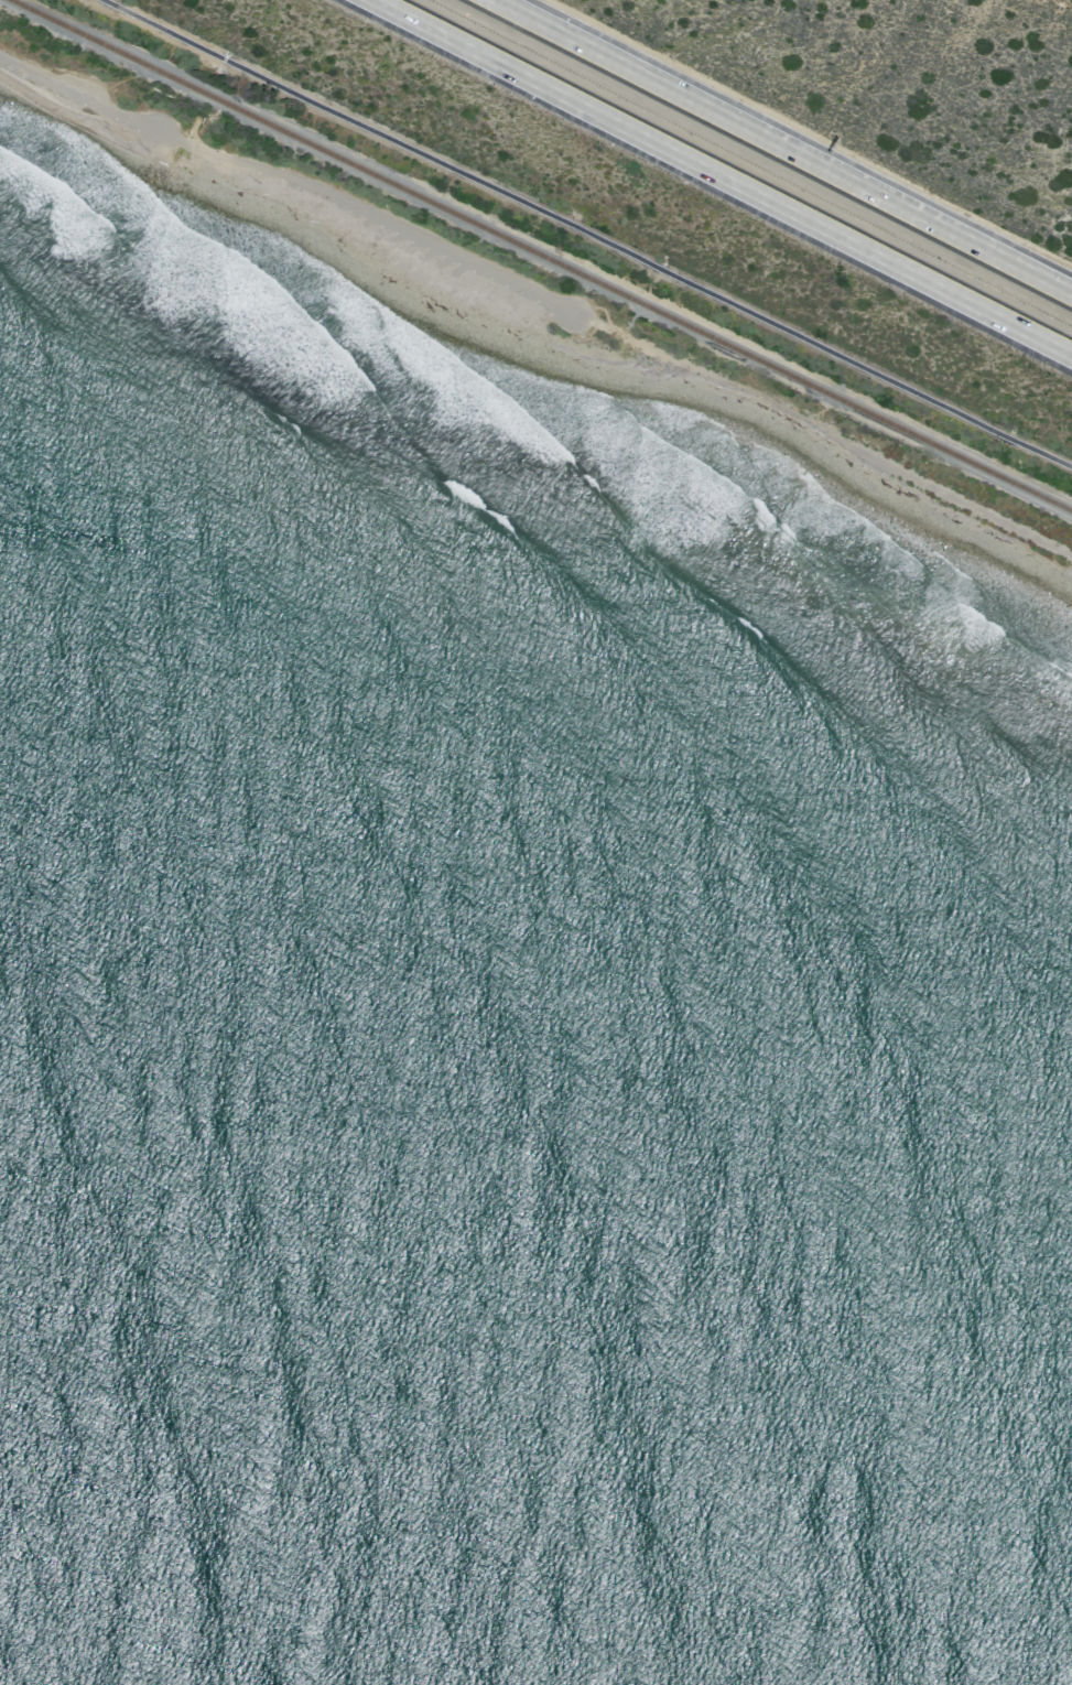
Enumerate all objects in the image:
road: (781, 147)
road: (724, 176)
road: (588, 235)
railway: (542, 255)
road: (540, 295)
park: (516, 296)

